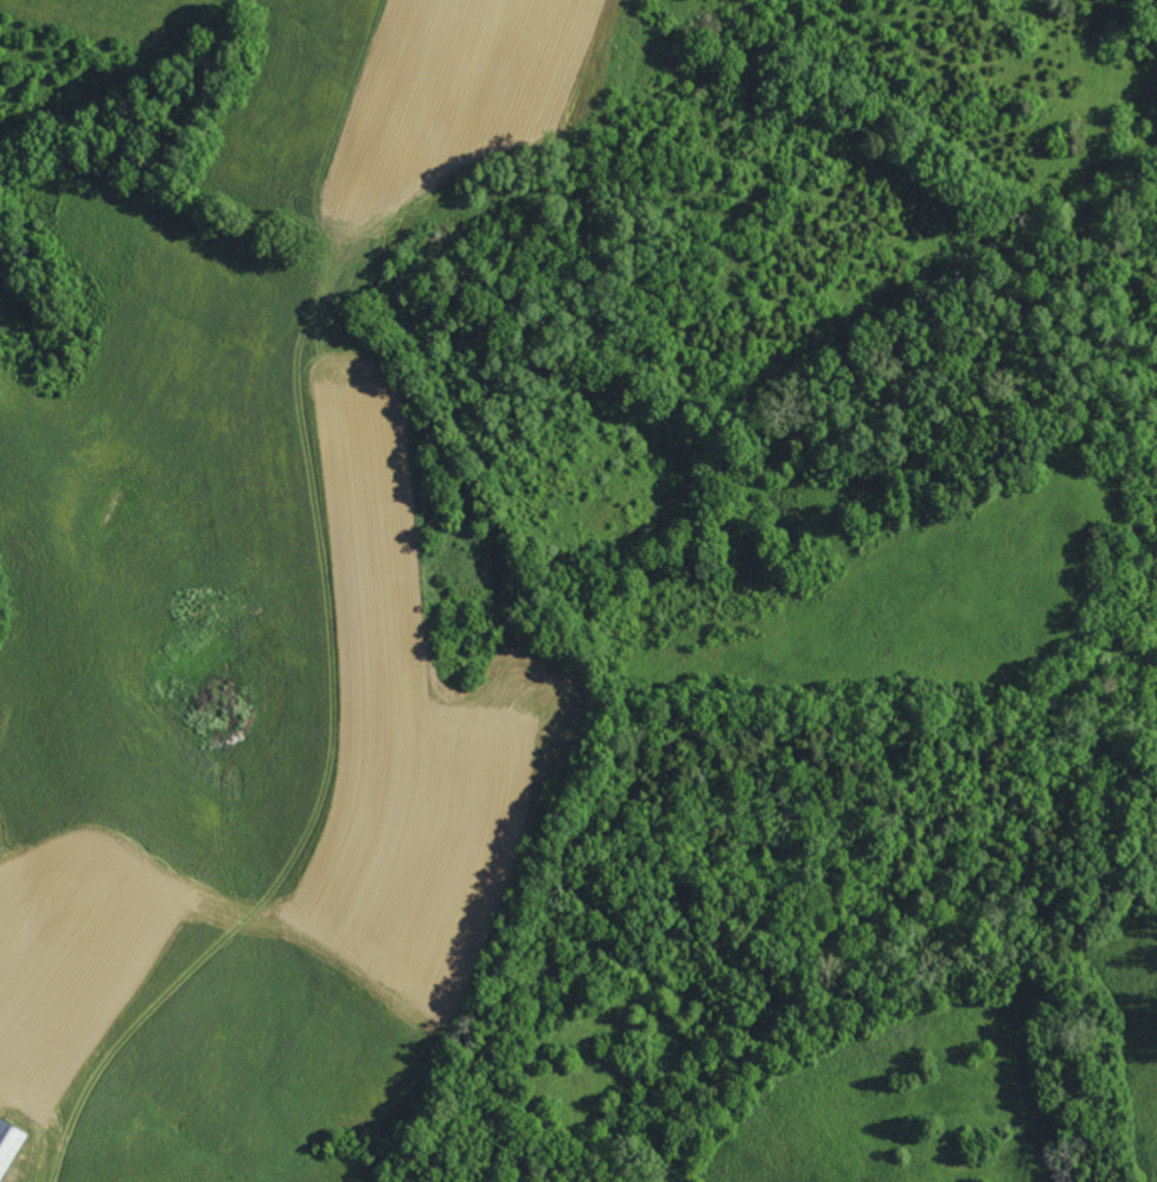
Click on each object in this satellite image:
building: (6, 1144)

